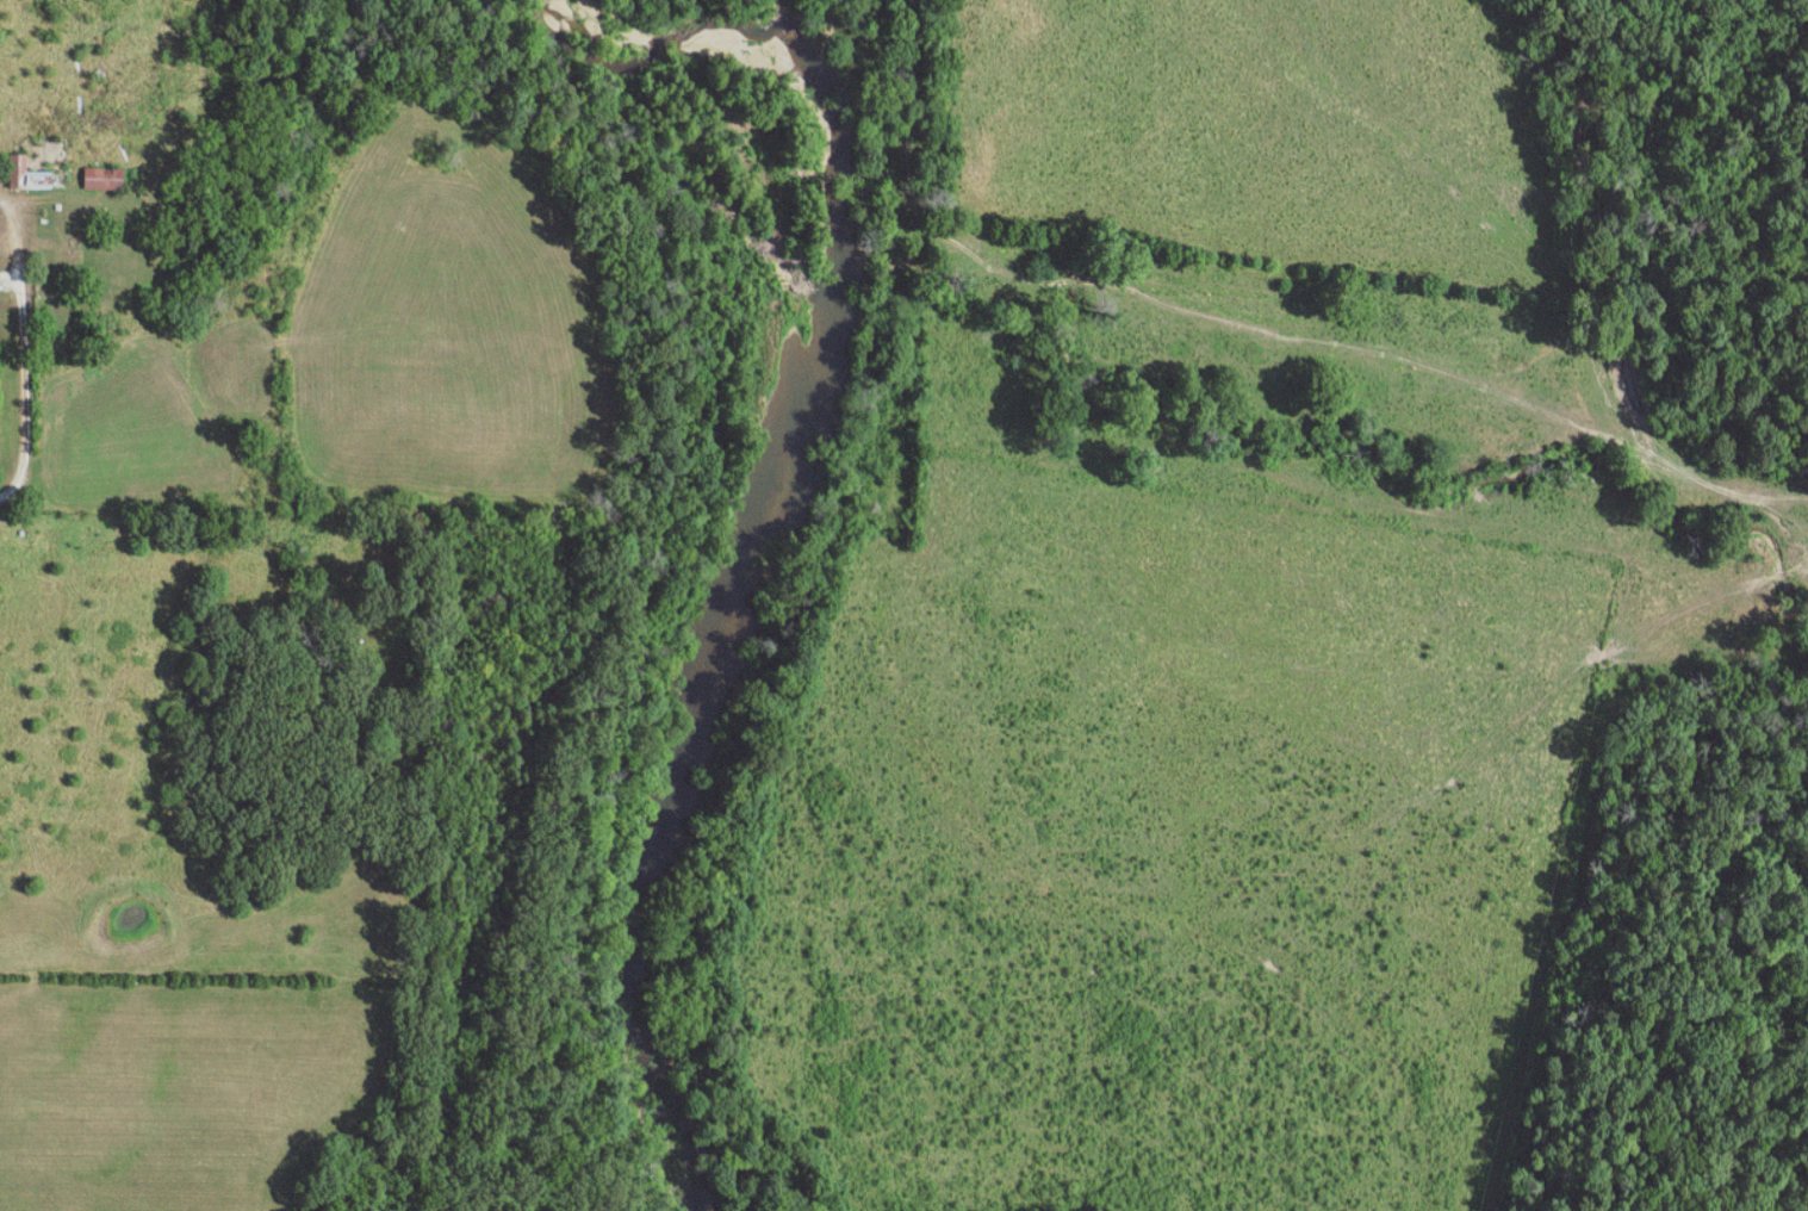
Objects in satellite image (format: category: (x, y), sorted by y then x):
building: (17, 166)
building: (101, 178)
road: (29, 361)

